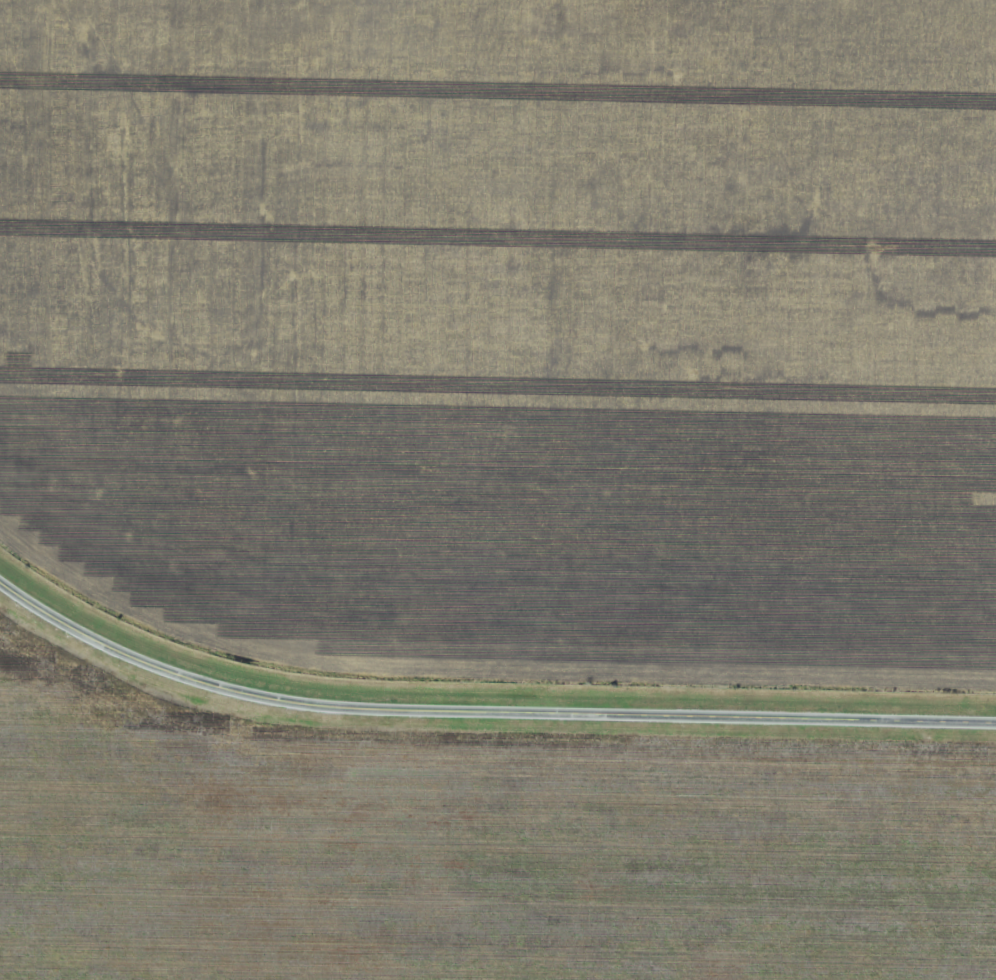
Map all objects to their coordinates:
road: (484, 712)

